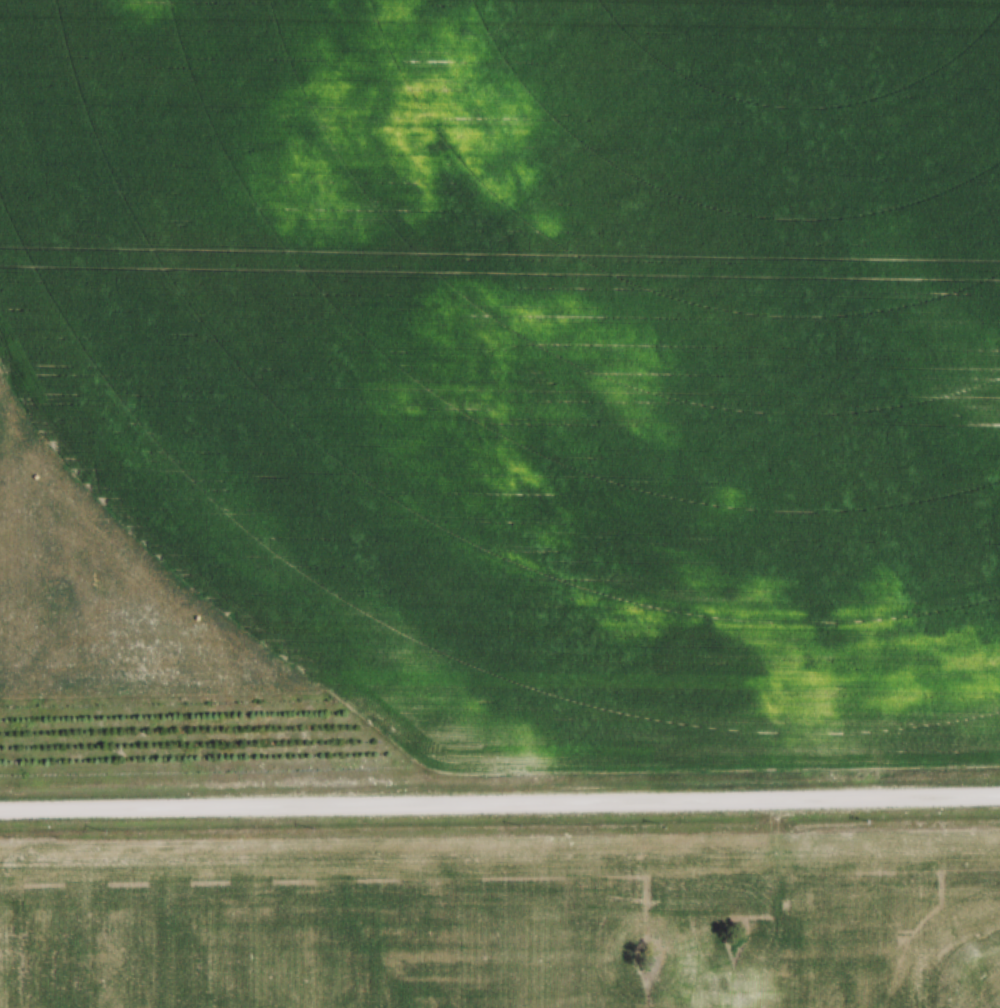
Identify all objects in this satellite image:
road: (500, 801)

